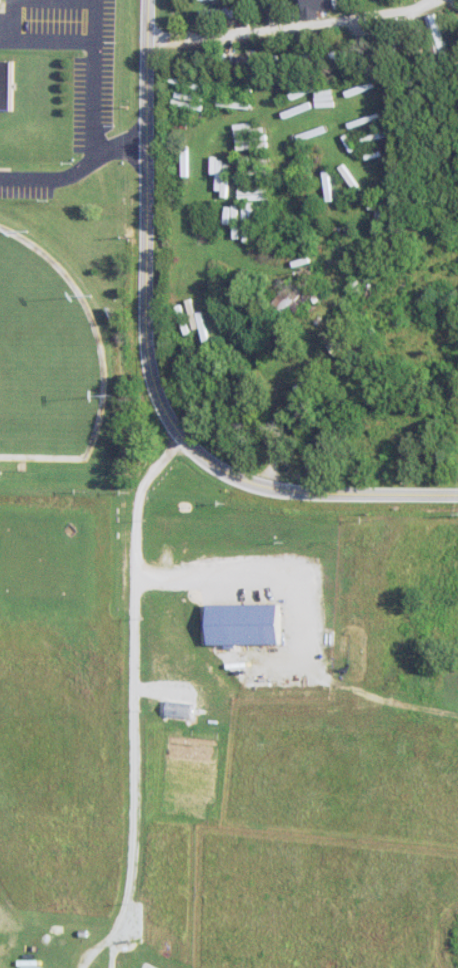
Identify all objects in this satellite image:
building: (203, 0)
road: (444, 1)
building: (223, 13)
road: (297, 28)
building: (9, 84)
parking lot: (95, 92)
building: (225, 168)
road: (77, 171)
park: (45, 359)
road: (148, 368)
road: (134, 604)
building: (251, 625)
road: (128, 887)

